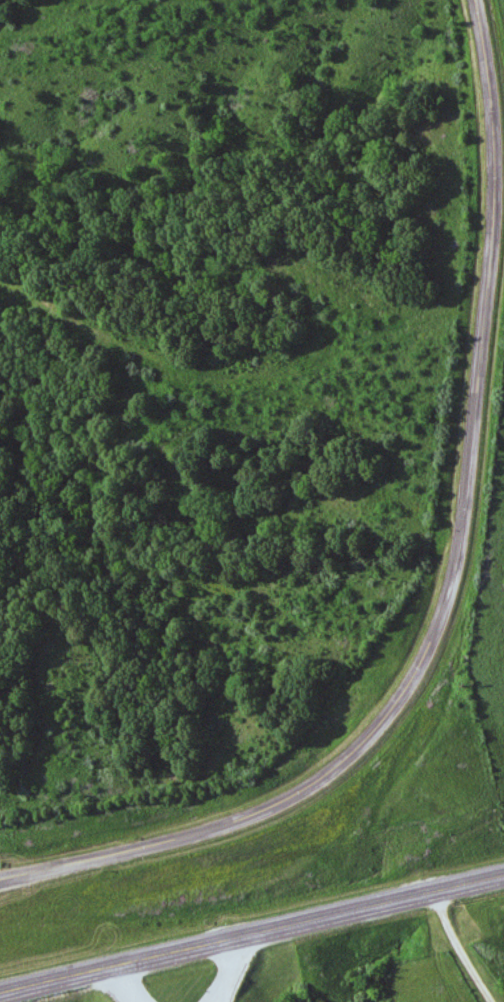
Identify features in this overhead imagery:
road: (451, 577)
road: (252, 930)
road: (463, 945)
road: (232, 968)
road: (126, 983)

